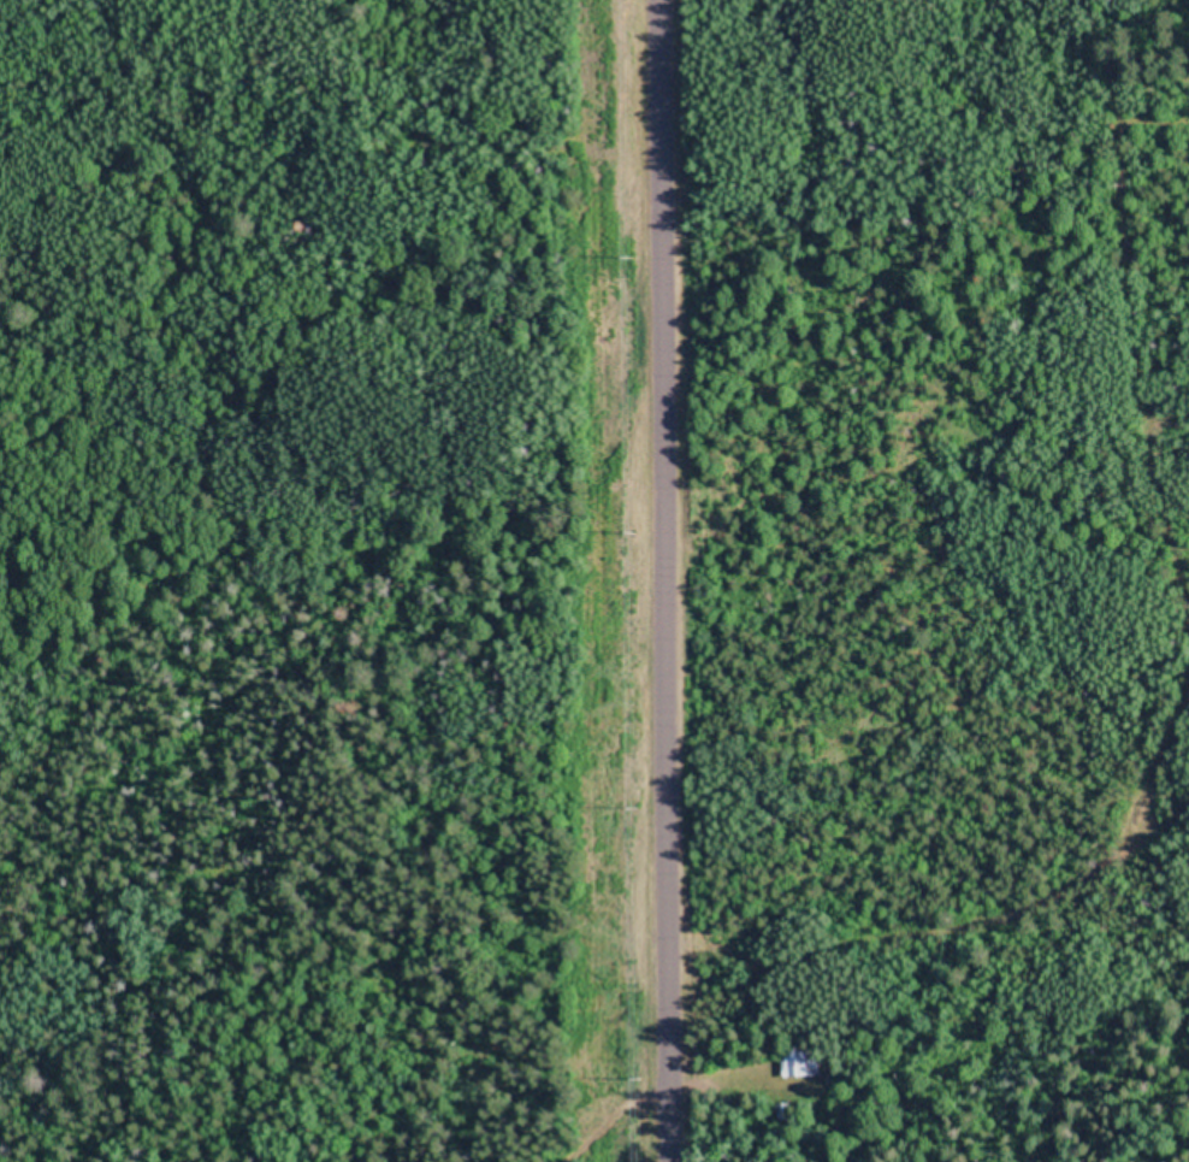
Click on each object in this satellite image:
road: (632, 580)
building: (806, 1063)
road: (584, 1122)

